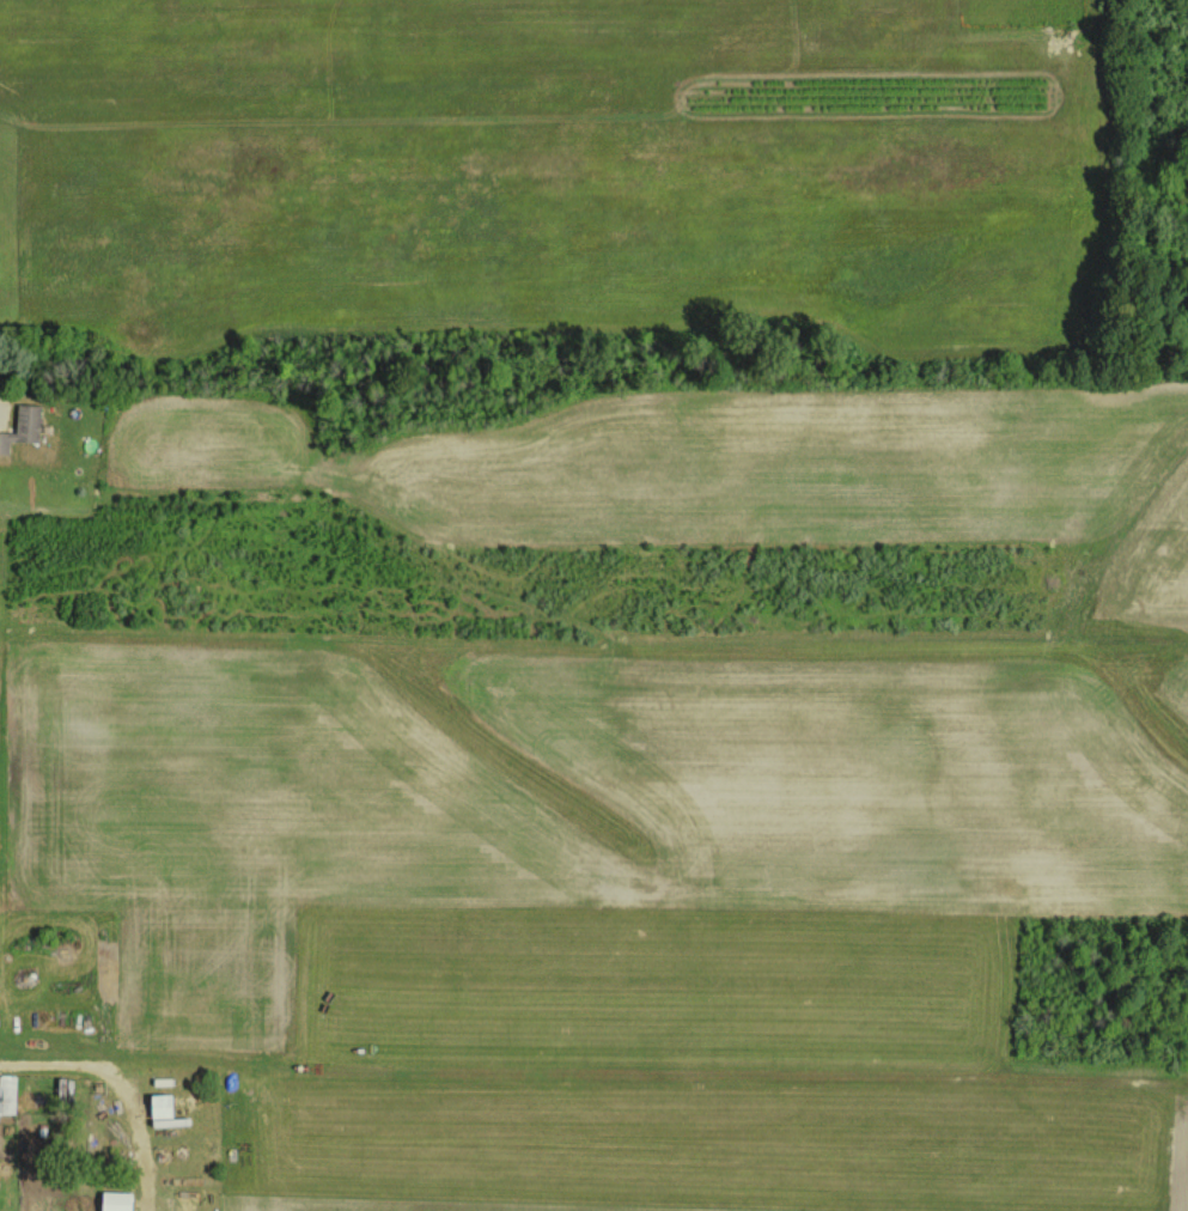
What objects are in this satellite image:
building: (23, 427)
road: (54, 1067)
building: (159, 1104)
building: (115, 1200)

